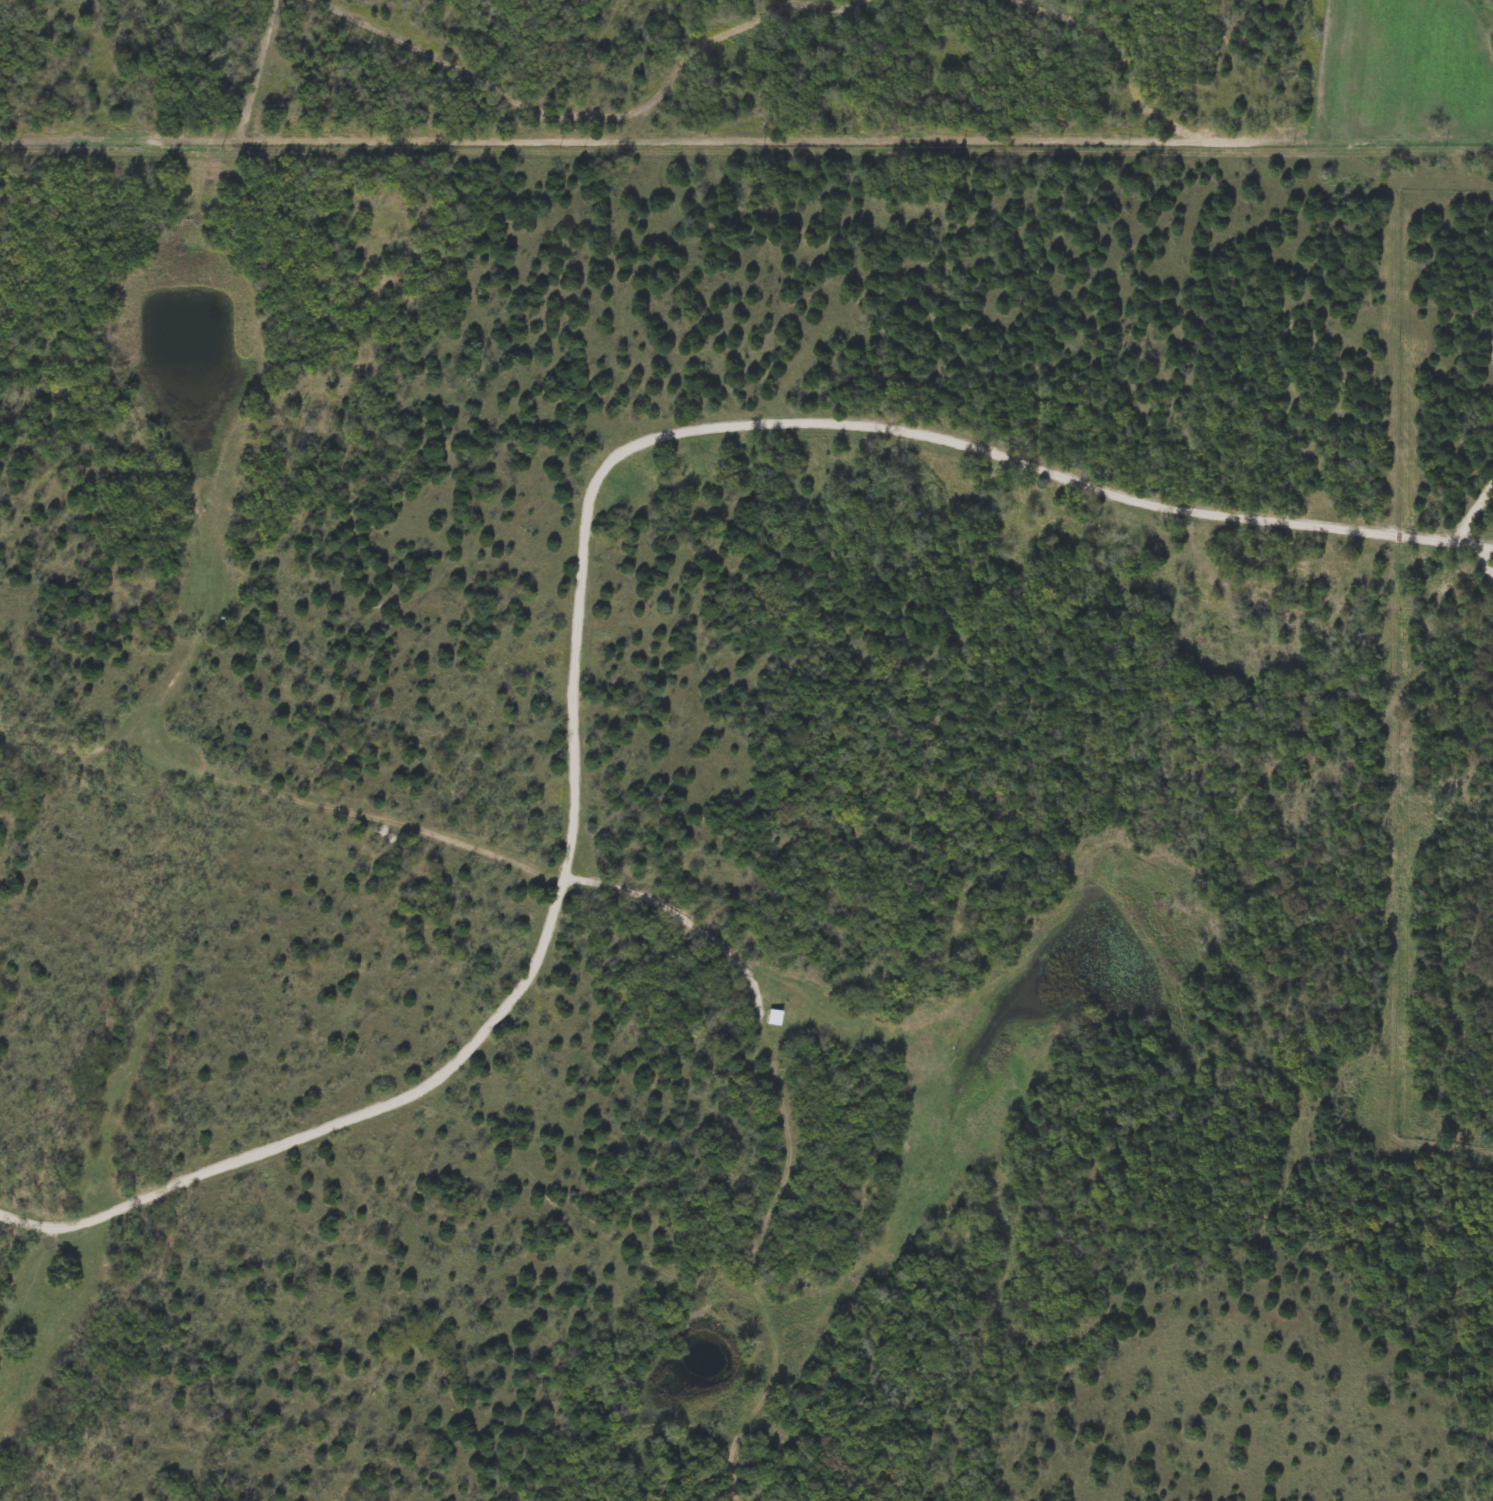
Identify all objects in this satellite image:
road: (1477, 513)
road: (584, 573)
road: (682, 918)

